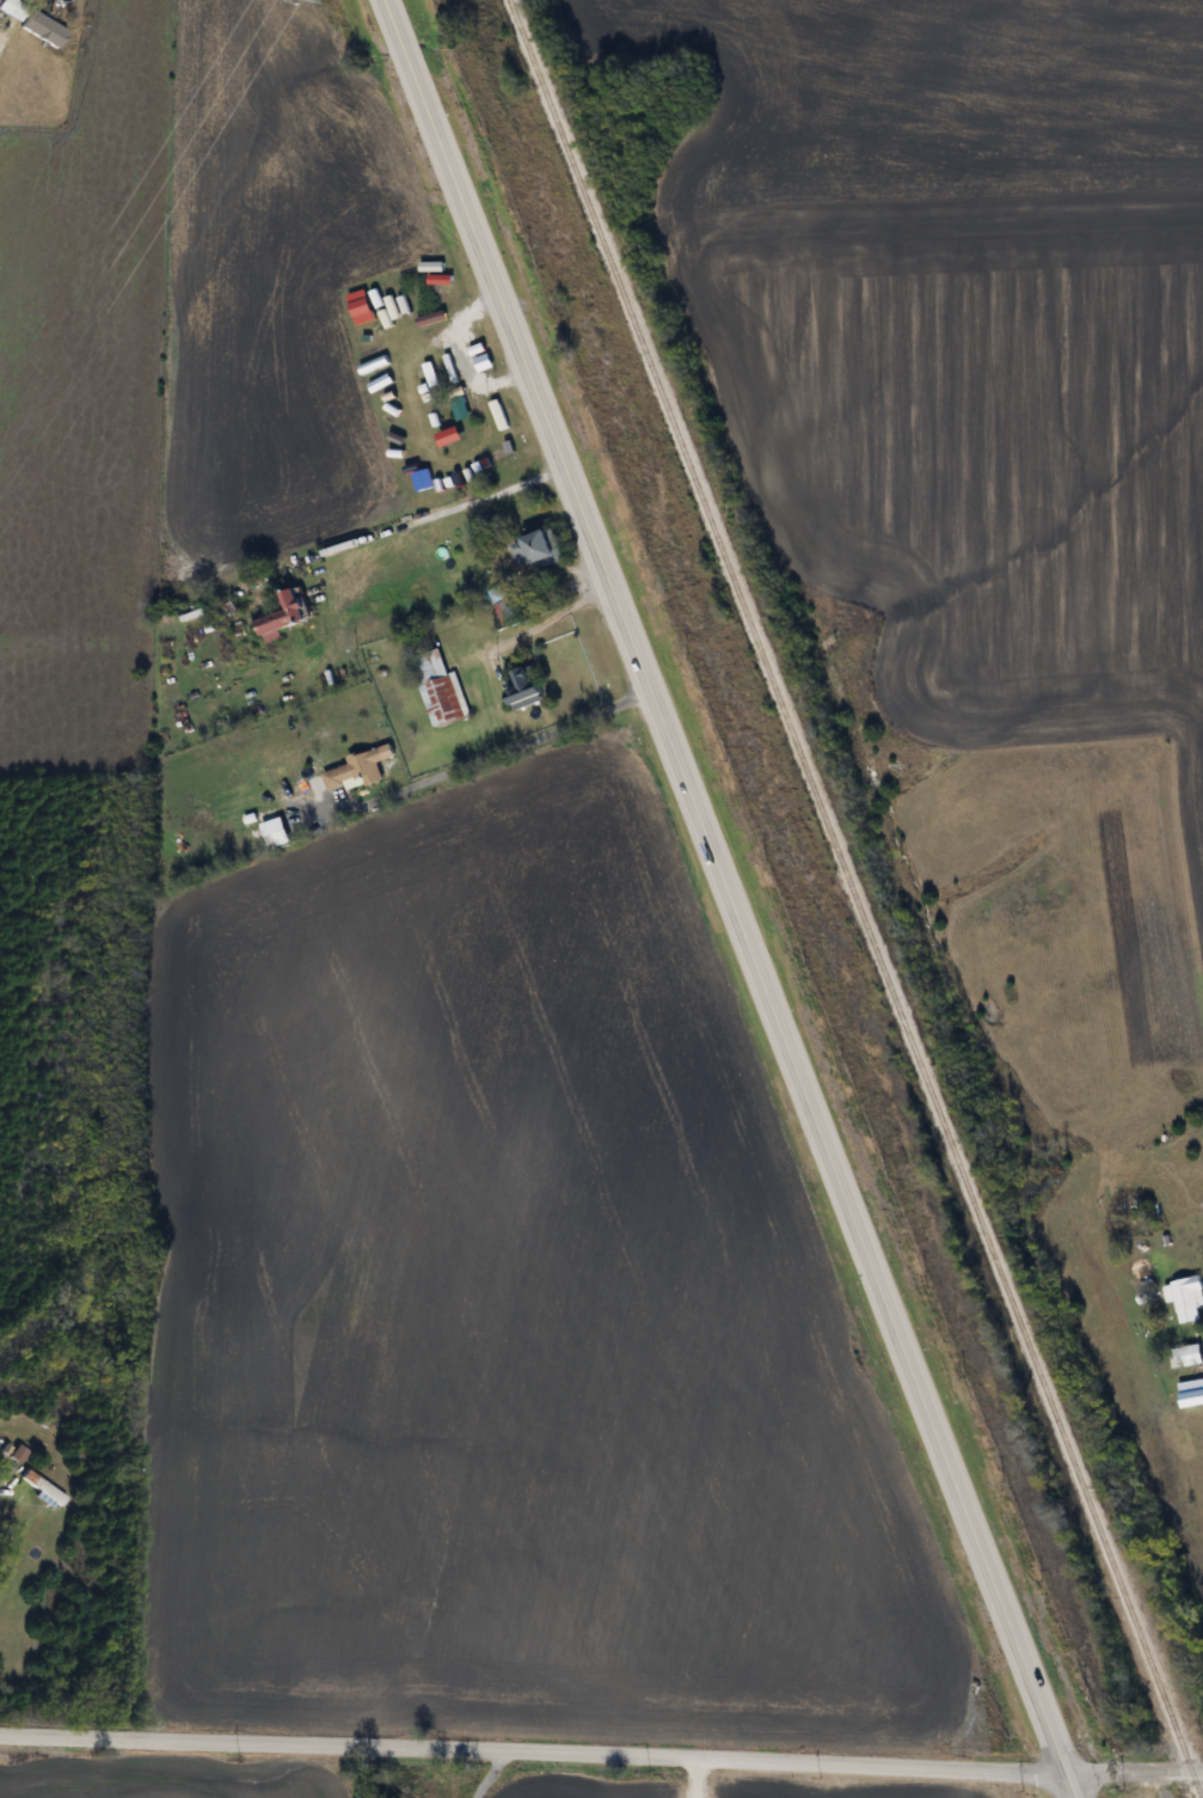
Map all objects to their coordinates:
building: (12, 7)
building: (43, 27)
road: (5, 31)
building: (456, 372)
road: (447, 503)
building: (538, 550)
building: (507, 611)
building: (282, 614)
road: (551, 616)
building: (522, 687)
building: (440, 690)
road: (510, 739)
building: (356, 769)
road: (724, 886)
railway: (855, 898)
building: (1184, 1296)
building: (1185, 1354)
building: (19, 1453)
building: (42, 1486)
road: (532, 1748)
road: (493, 1772)
road: (1134, 1772)
road: (695, 1778)
road: (1068, 1785)

